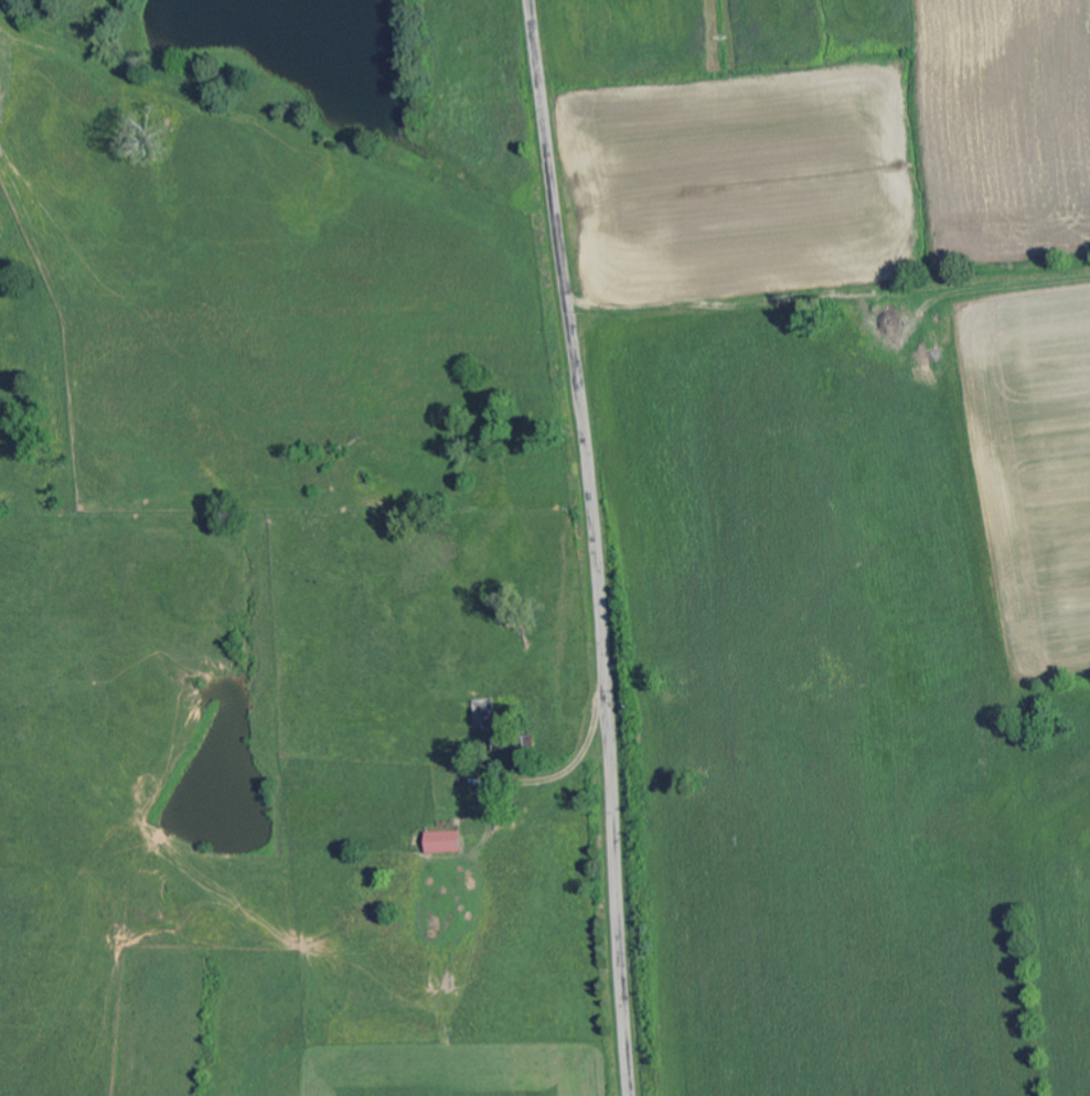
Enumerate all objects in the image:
road: (595, 546)
building: (446, 842)

